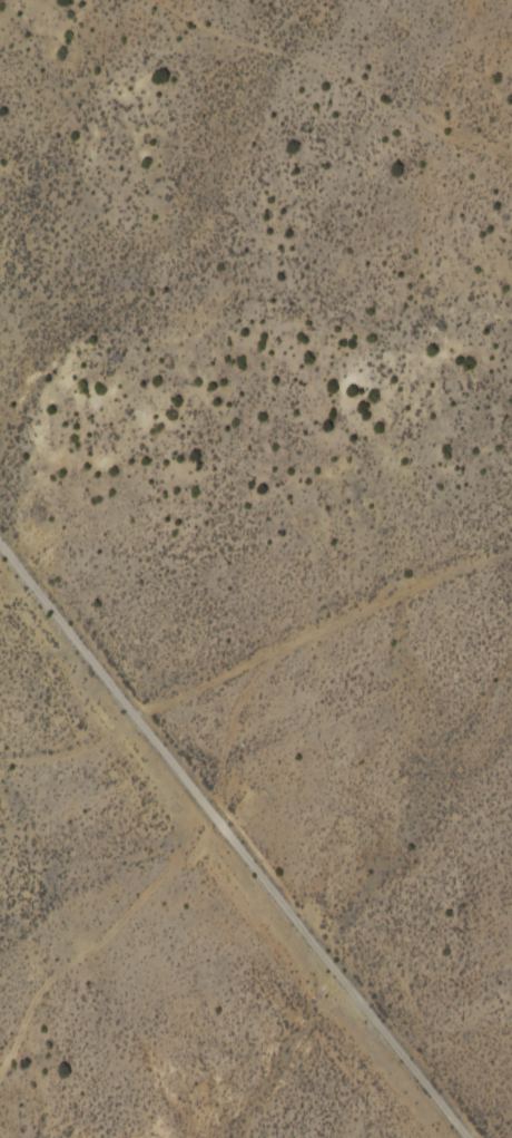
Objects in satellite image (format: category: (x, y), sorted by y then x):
road: (71, 643)
road: (256, 668)
road: (295, 930)

